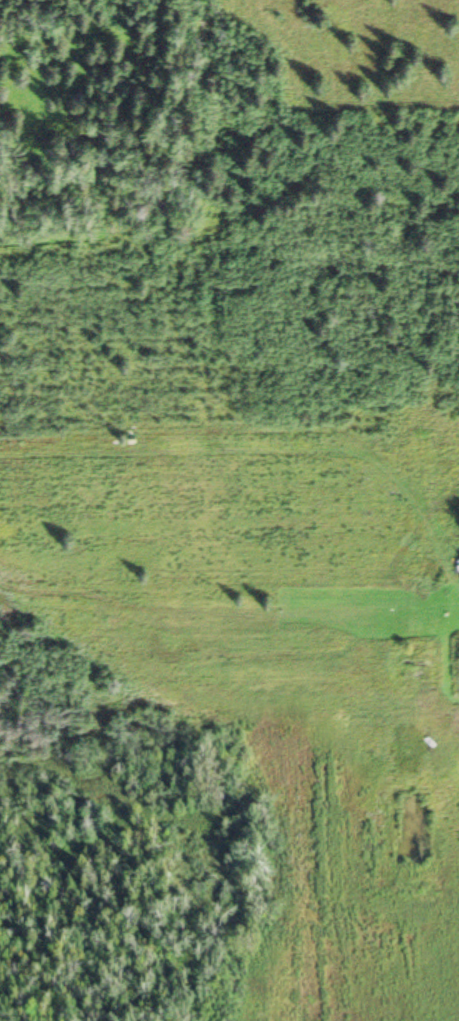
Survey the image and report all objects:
building: (433, 663)

